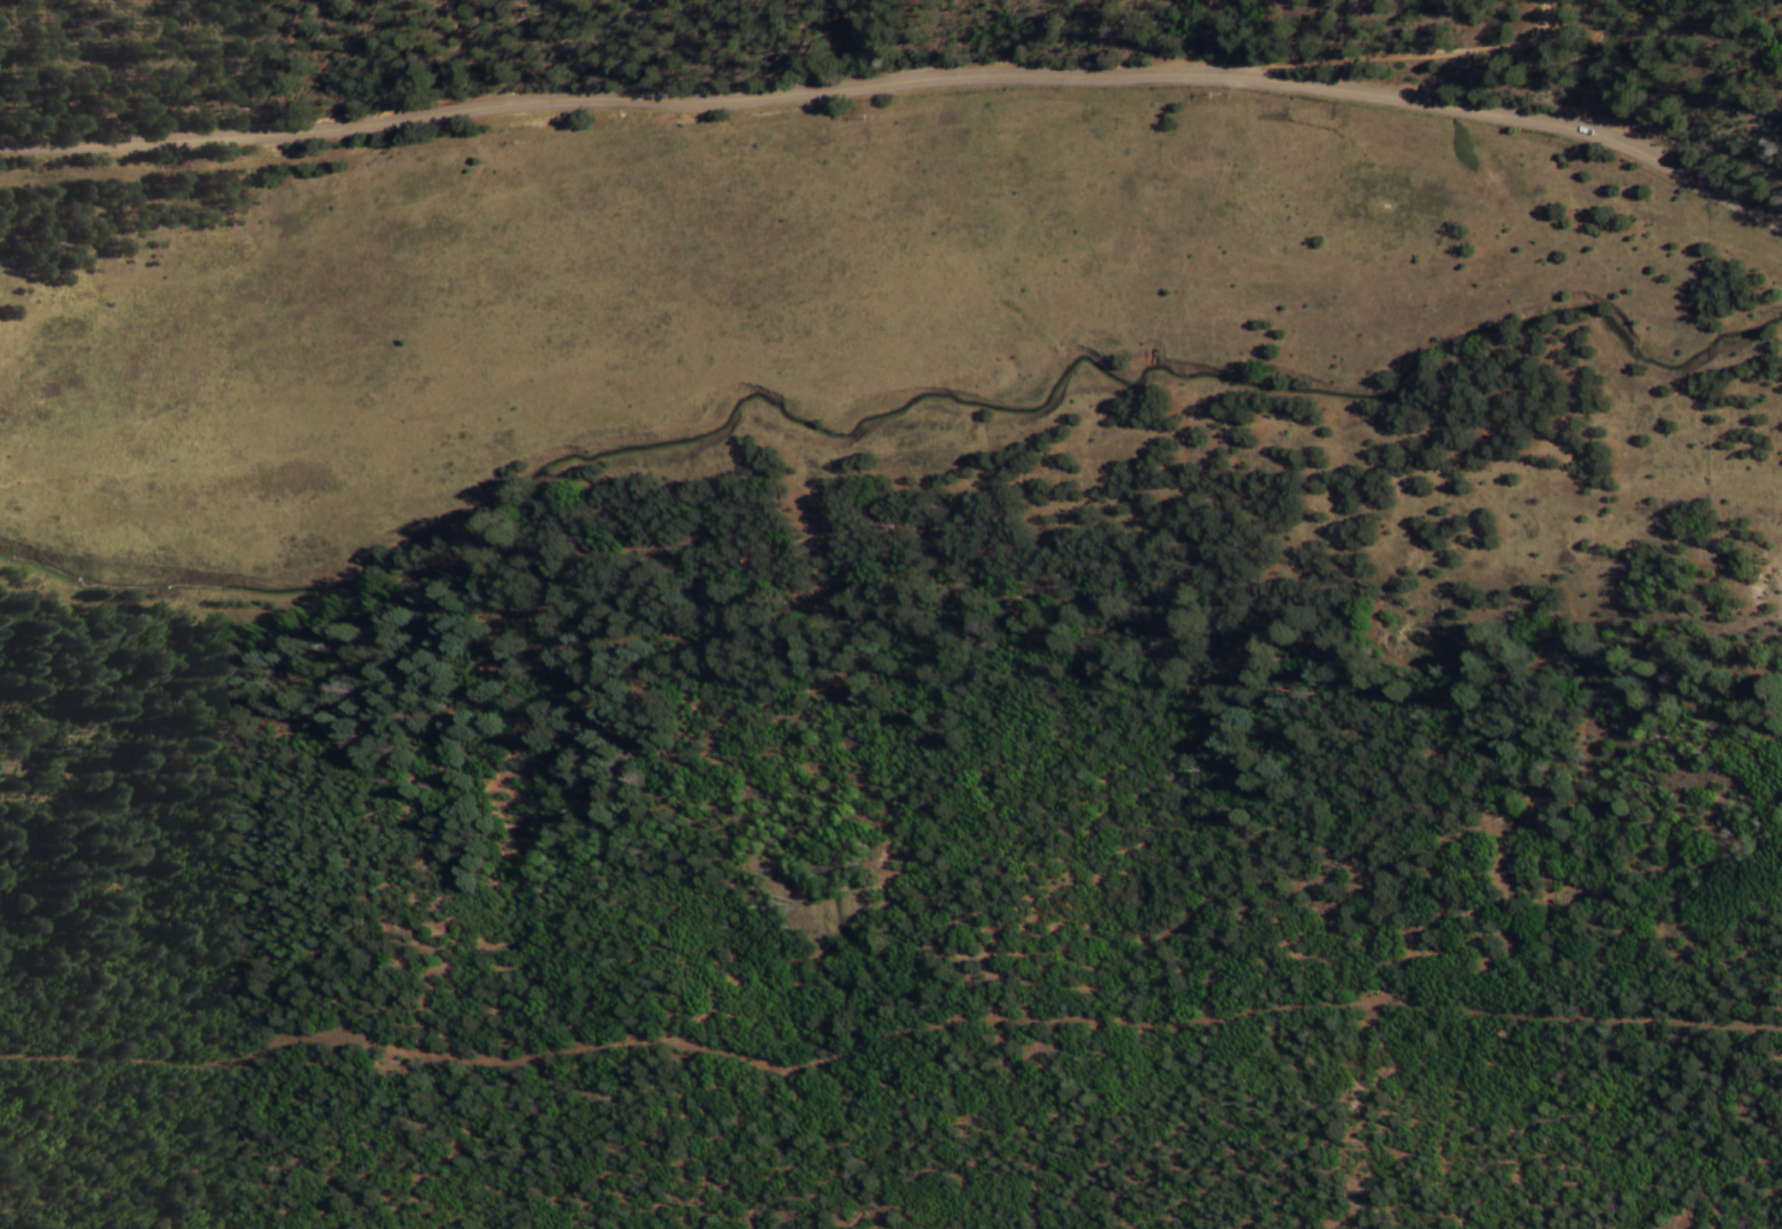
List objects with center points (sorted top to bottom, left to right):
road: (1373, 42)
road: (901, 85)

